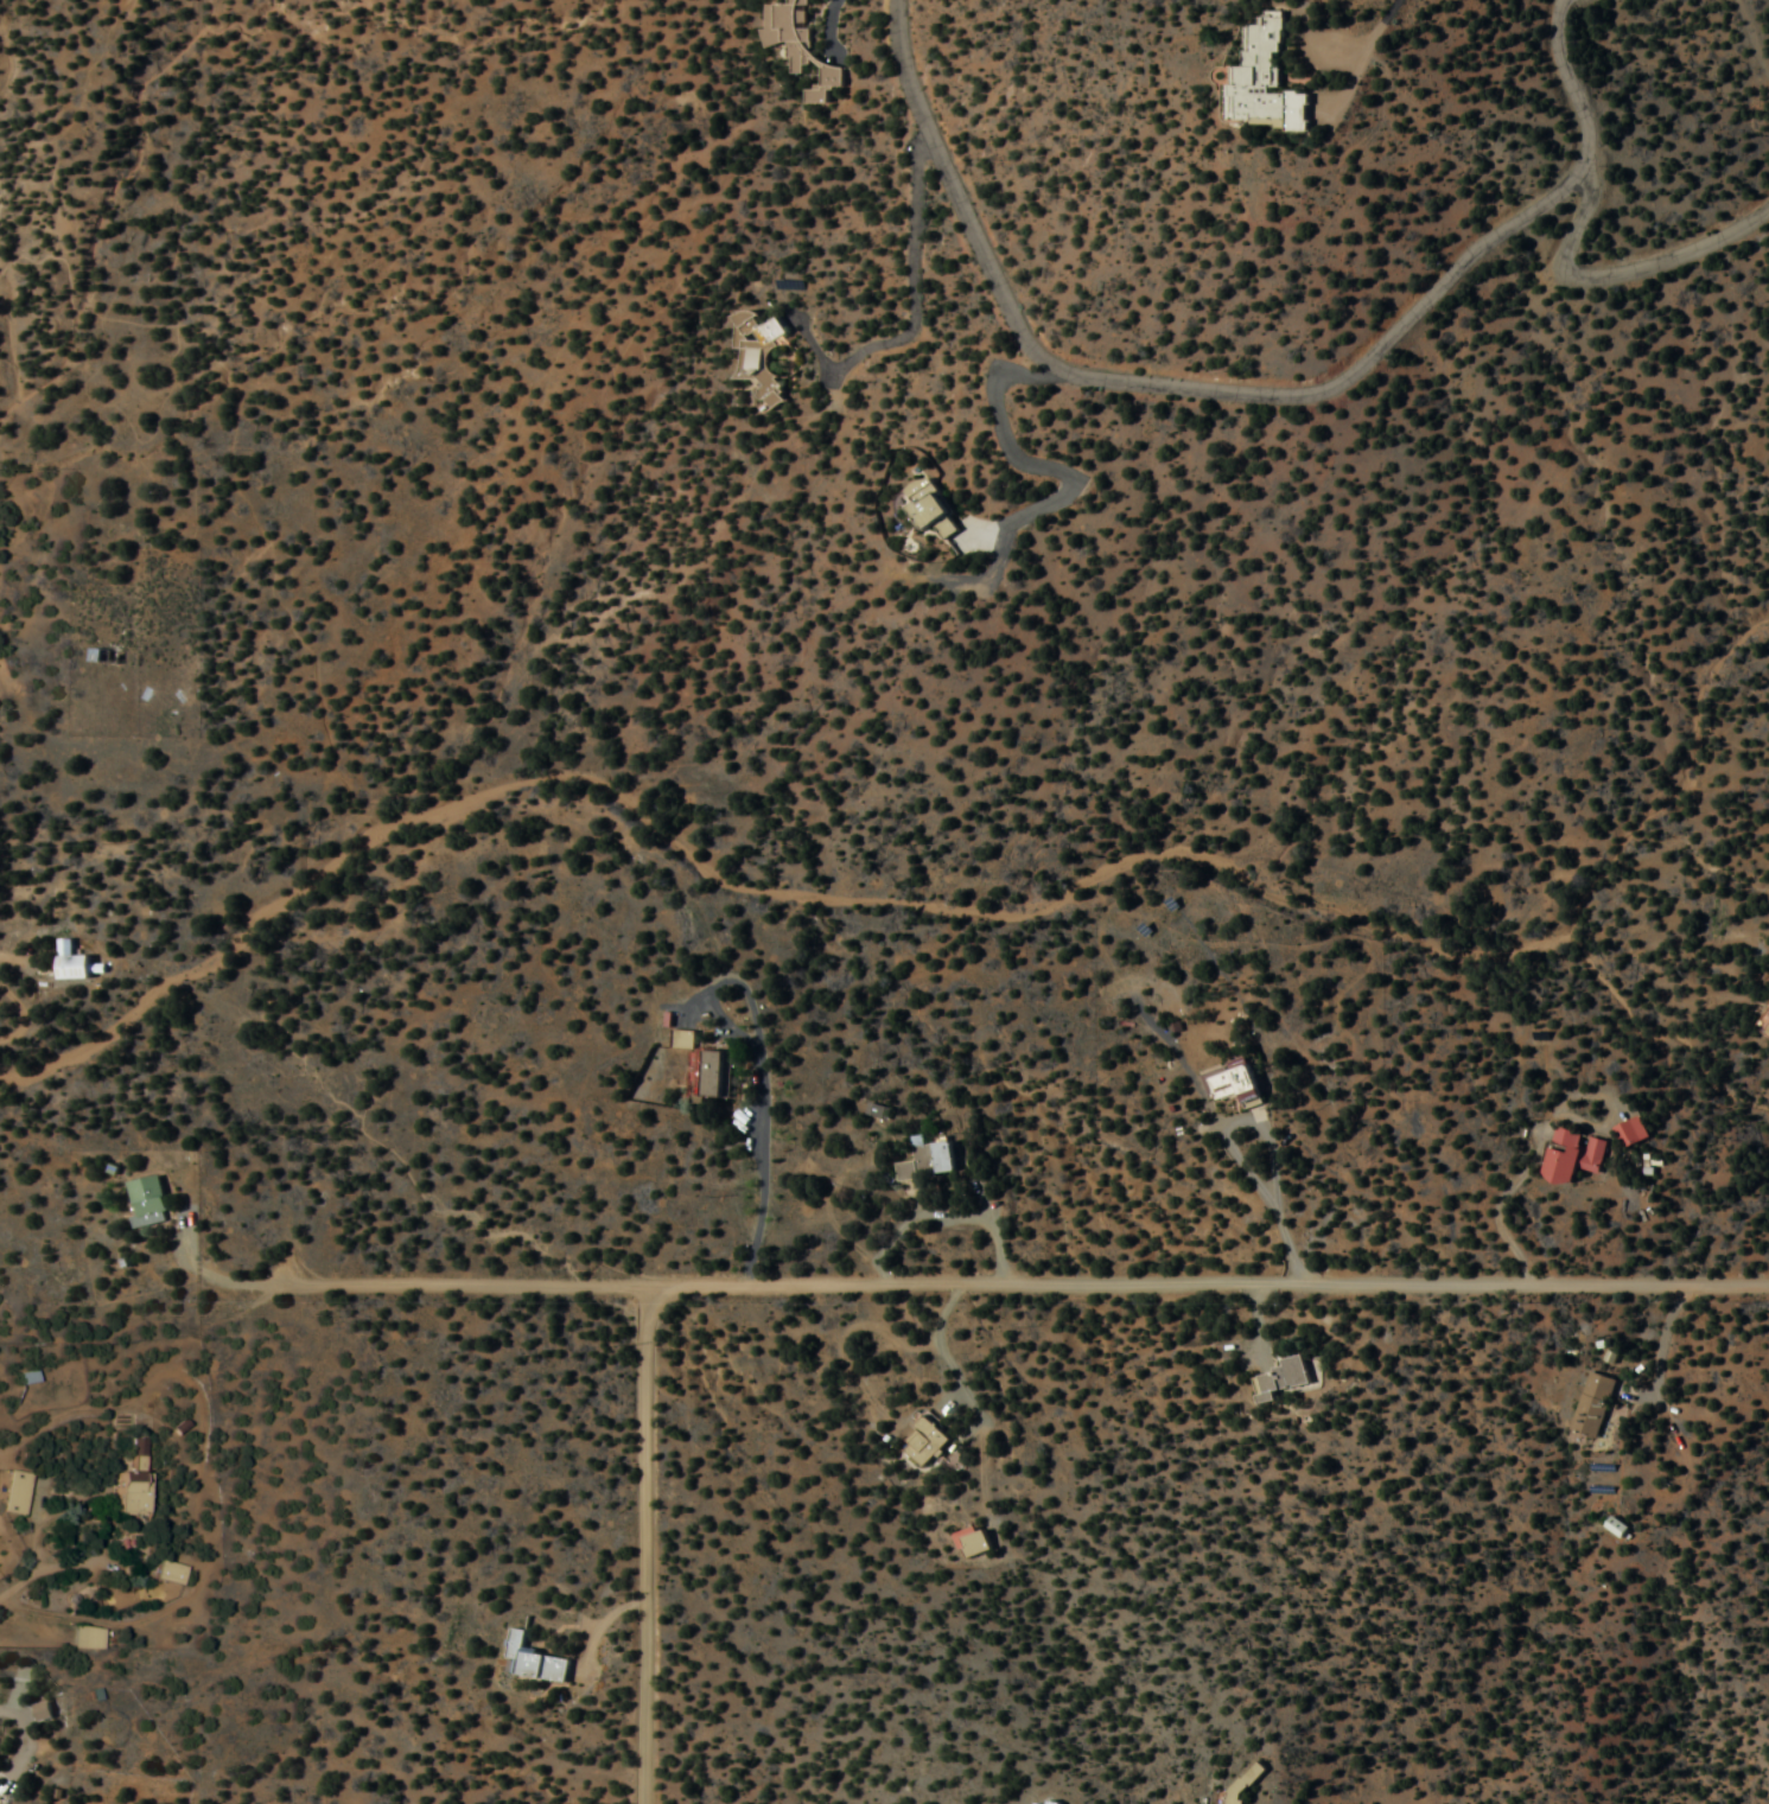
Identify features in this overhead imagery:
building: (796, 42)
building: (1266, 79)
road: (1615, 274)
building: (758, 353)
road: (1241, 394)
building: (929, 512)
building: (101, 657)
building: (11, 925)
building: (68, 965)
building: (1767, 1032)
building: (680, 1040)
building: (713, 1075)
building: (1234, 1086)
building: (874, 1111)
building: (1629, 1133)
building: (1571, 1156)
building: (924, 1161)
building: (144, 1203)
road: (1013, 1283)
building: (25, 1378)
building: (1278, 1381)
building: (1591, 1407)
building: (923, 1445)
building: (126, 1492)
building: (13, 1493)
building: (1614, 1528)
building: (971, 1543)
road: (641, 1545)
building: (166, 1573)
building: (84, 1638)
building: (532, 1660)

